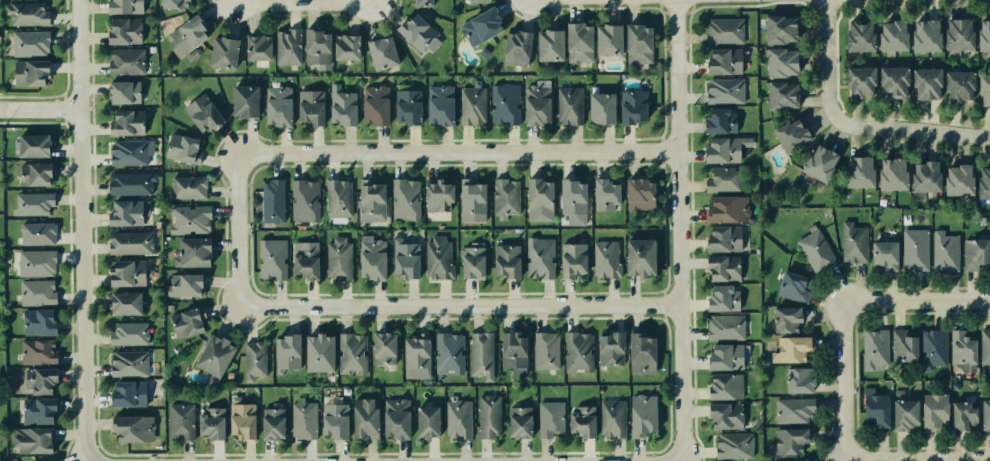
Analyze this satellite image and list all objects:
road: (374, 0)
road: (226, 1)
building: (470, 1)
road: (301, 2)
building: (419, 2)
building: (175, 3)
building: (121, 7)
building: (27, 13)
building: (476, 26)
building: (719, 30)
building: (776, 30)
building: (122, 31)
building: (888, 33)
building: (956, 33)
building: (983, 33)
building: (419, 34)
building: (920, 36)
building: (185, 37)
building: (856, 37)
building: (604, 39)
building: (31, 40)
building: (576, 44)
building: (287, 45)
building: (550, 45)
building: (636, 45)
building: (346, 46)
building: (256, 47)
building: (315, 47)
building: (516, 48)
building: (221, 50)
building: (380, 50)
building: (123, 61)
building: (721, 61)
building: (774, 65)
road: (827, 69)
building: (27, 72)
building: (889, 80)
building: (855, 81)
building: (921, 84)
building: (955, 84)
building: (982, 86)
building: (722, 90)
building: (123, 91)
building: (778, 95)
building: (245, 101)
building: (273, 104)
building: (500, 104)
building: (472, 105)
building: (309, 106)
building: (371, 106)
building: (436, 106)
road: (39, 107)
building: (339, 107)
building: (404, 107)
building: (533, 107)
building: (569, 108)
building: (629, 109)
building: (595, 110)
building: (202, 113)
building: (716, 120)
building: (124, 122)
building: (786, 133)
road: (909, 140)
building: (31, 146)
building: (721, 148)
building: (184, 149)
building: (131, 151)
road: (457, 154)
building: (814, 161)
building: (854, 170)
building: (886, 173)
building: (33, 174)
building: (923, 176)
building: (955, 180)
building: (720, 181)
building: (127, 182)
building: (982, 185)
building: (186, 187)
building: (606, 194)
building: (640, 195)
building: (338, 199)
building: (503, 200)
building: (538, 200)
building: (571, 200)
building: (272, 201)
building: (304, 201)
building: (368, 201)
building: (404, 201)
building: (437, 202)
building: (32, 205)
building: (472, 205)
building: (728, 208)
building: (127, 211)
building: (188, 219)
road: (81, 230)
road: (238, 230)
road: (677, 230)
building: (34, 234)
building: (724, 238)
building: (130, 242)
building: (854, 243)
building: (913, 251)
building: (944, 251)
building: (190, 252)
building: (817, 252)
building: (976, 252)
building: (435, 257)
building: (571, 257)
building: (406, 258)
building: (602, 258)
building: (638, 258)
building: (272, 259)
building: (306, 259)
building: (338, 259)
building: (373, 260)
building: (539, 260)
building: (882, 260)
building: (506, 261)
building: (34, 262)
building: (473, 263)
building: (724, 267)
building: (128, 272)
building: (181, 284)
building: (794, 287)
building: (35, 293)
building: (723, 299)
road: (913, 299)
building: (122, 301)
road: (459, 305)
building: (787, 320)
building: (188, 321)
building: (34, 322)
building: (723, 328)
building: (126, 334)
building: (985, 344)
building: (384, 348)
building: (611, 348)
building: (902, 348)
building: (932, 348)
building: (874, 349)
building: (35, 351)
building: (513, 351)
building: (544, 351)
building: (790, 351)
building: (963, 351)
building: (446, 352)
building: (578, 352)
building: (283, 353)
building: (315, 353)
building: (638, 353)
building: (481, 355)
building: (210, 356)
building: (350, 356)
building: (417, 356)
building: (722, 358)
building: (252, 362)
building: (126, 363)
road: (836, 378)
building: (30, 379)
building: (800, 379)
building: (726, 386)
building: (124, 392)
building: (877, 409)
building: (36, 410)
building: (935, 411)
building: (790, 414)
building: (906, 414)
building: (643, 415)
building: (964, 415)
building: (986, 415)
building: (727, 416)
building: (335, 417)
building: (489, 417)
building: (365, 418)
building: (397, 418)
building: (458, 418)
building: (550, 418)
building: (612, 418)
building: (177, 419)
building: (242, 420)
building: (273, 421)
building: (428, 421)
building: (583, 421)
building: (301, 422)
building: (520, 422)
building: (209, 423)
building: (129, 427)
building: (29, 440)
building: (788, 444)
building: (733, 445)
road: (912, 455)
building: (47, 460)
building: (808, 460)

